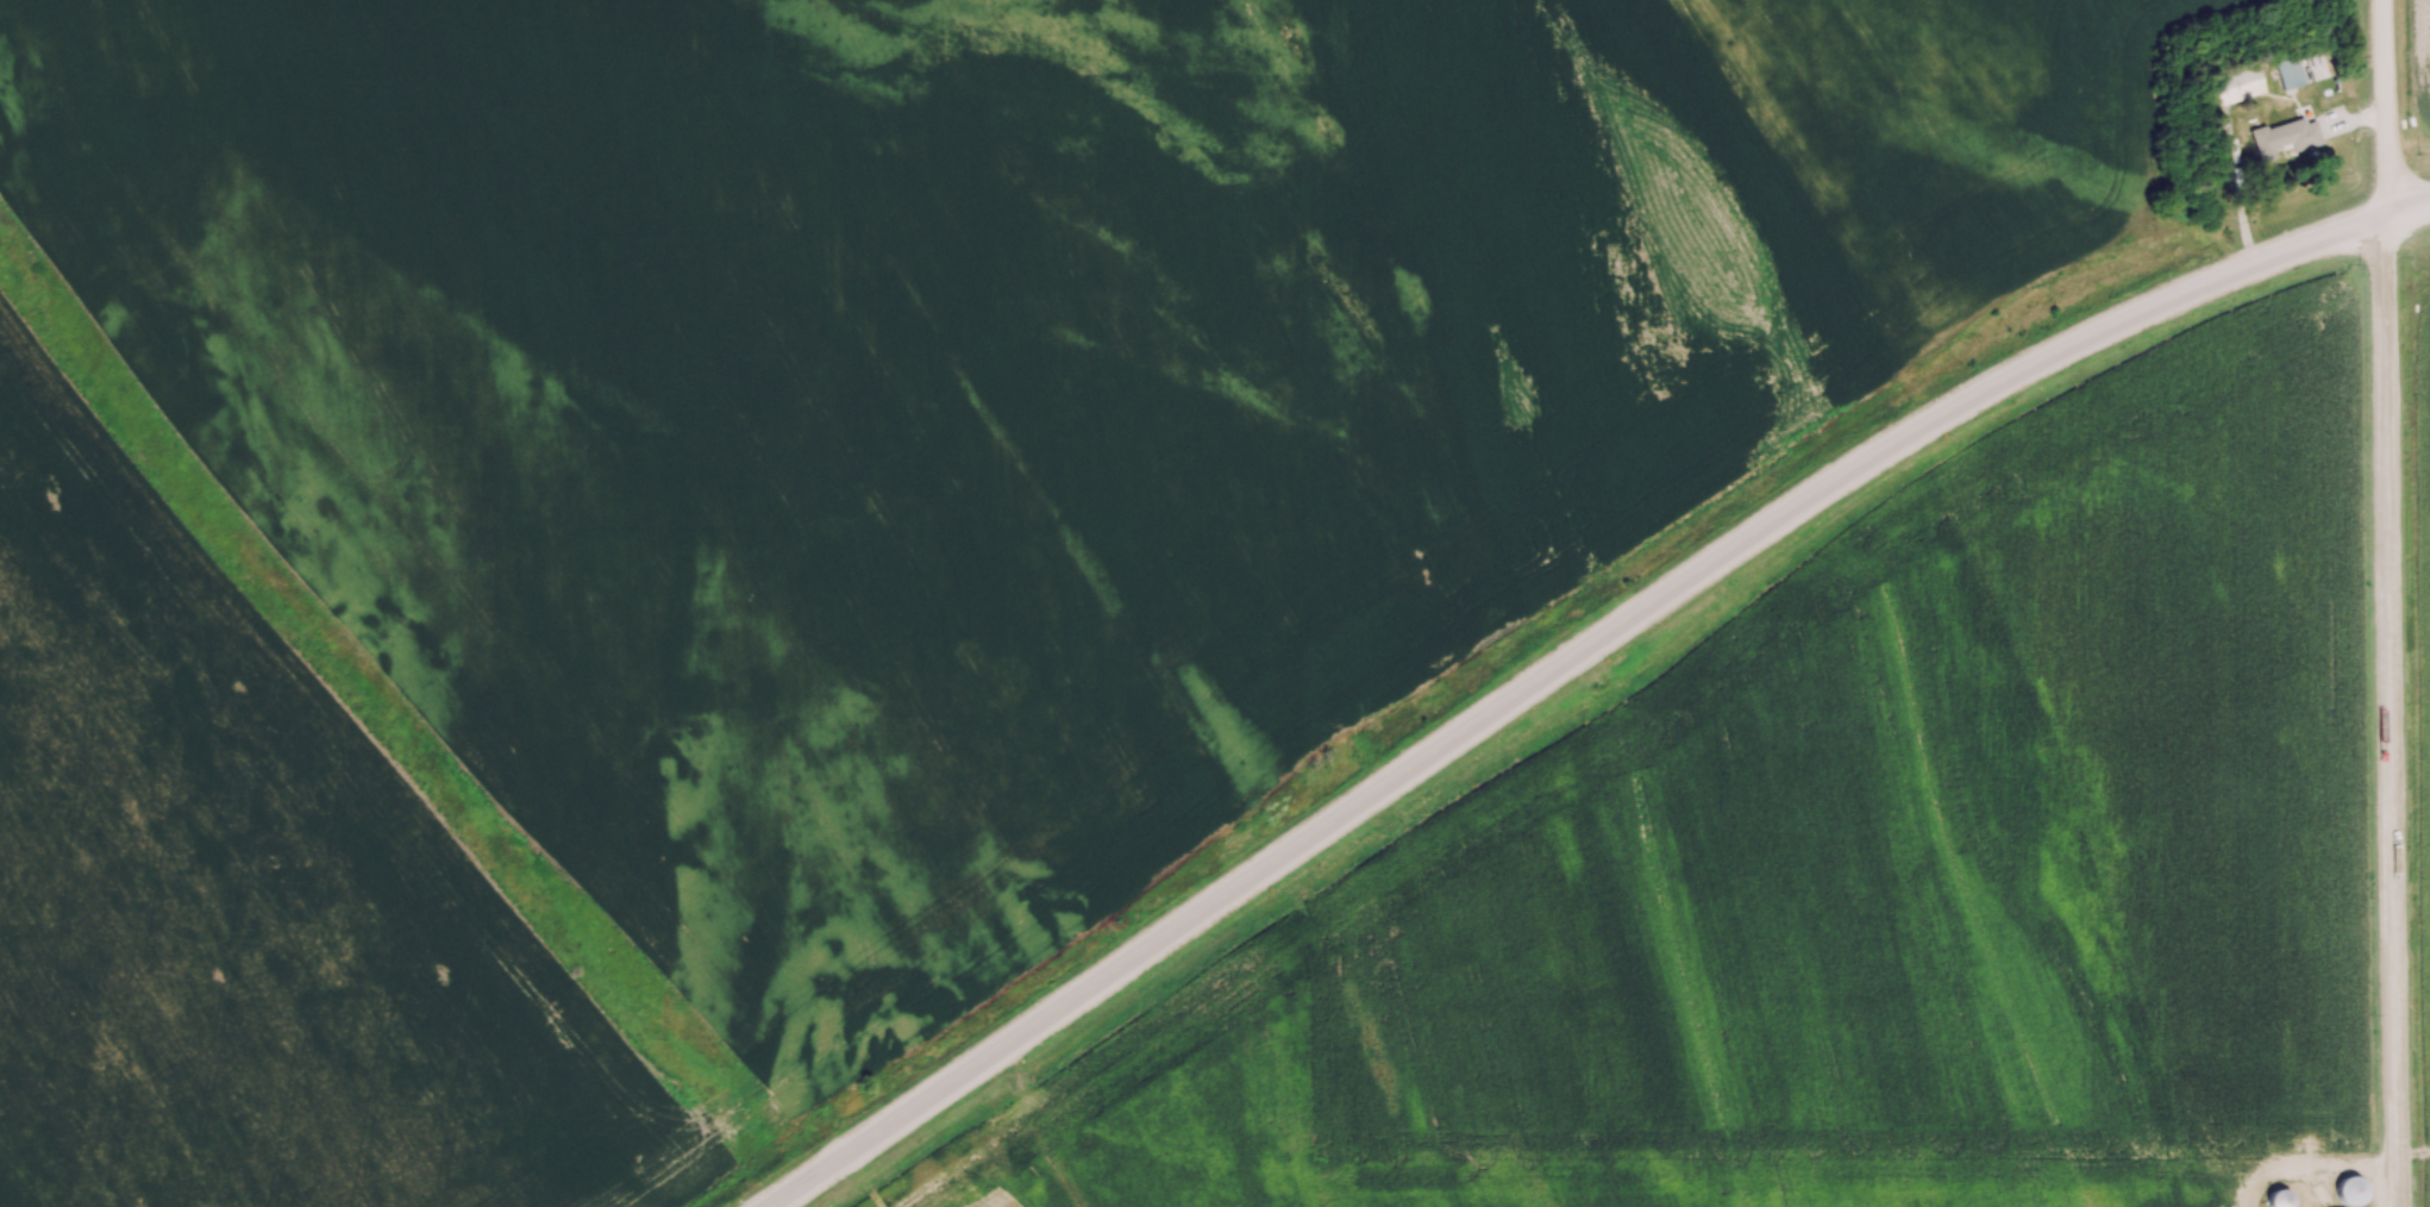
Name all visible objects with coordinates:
road: (2380, 108)
road: (2407, 209)
road: (1554, 670)
road: (2388, 712)
crop: (255, 884)

